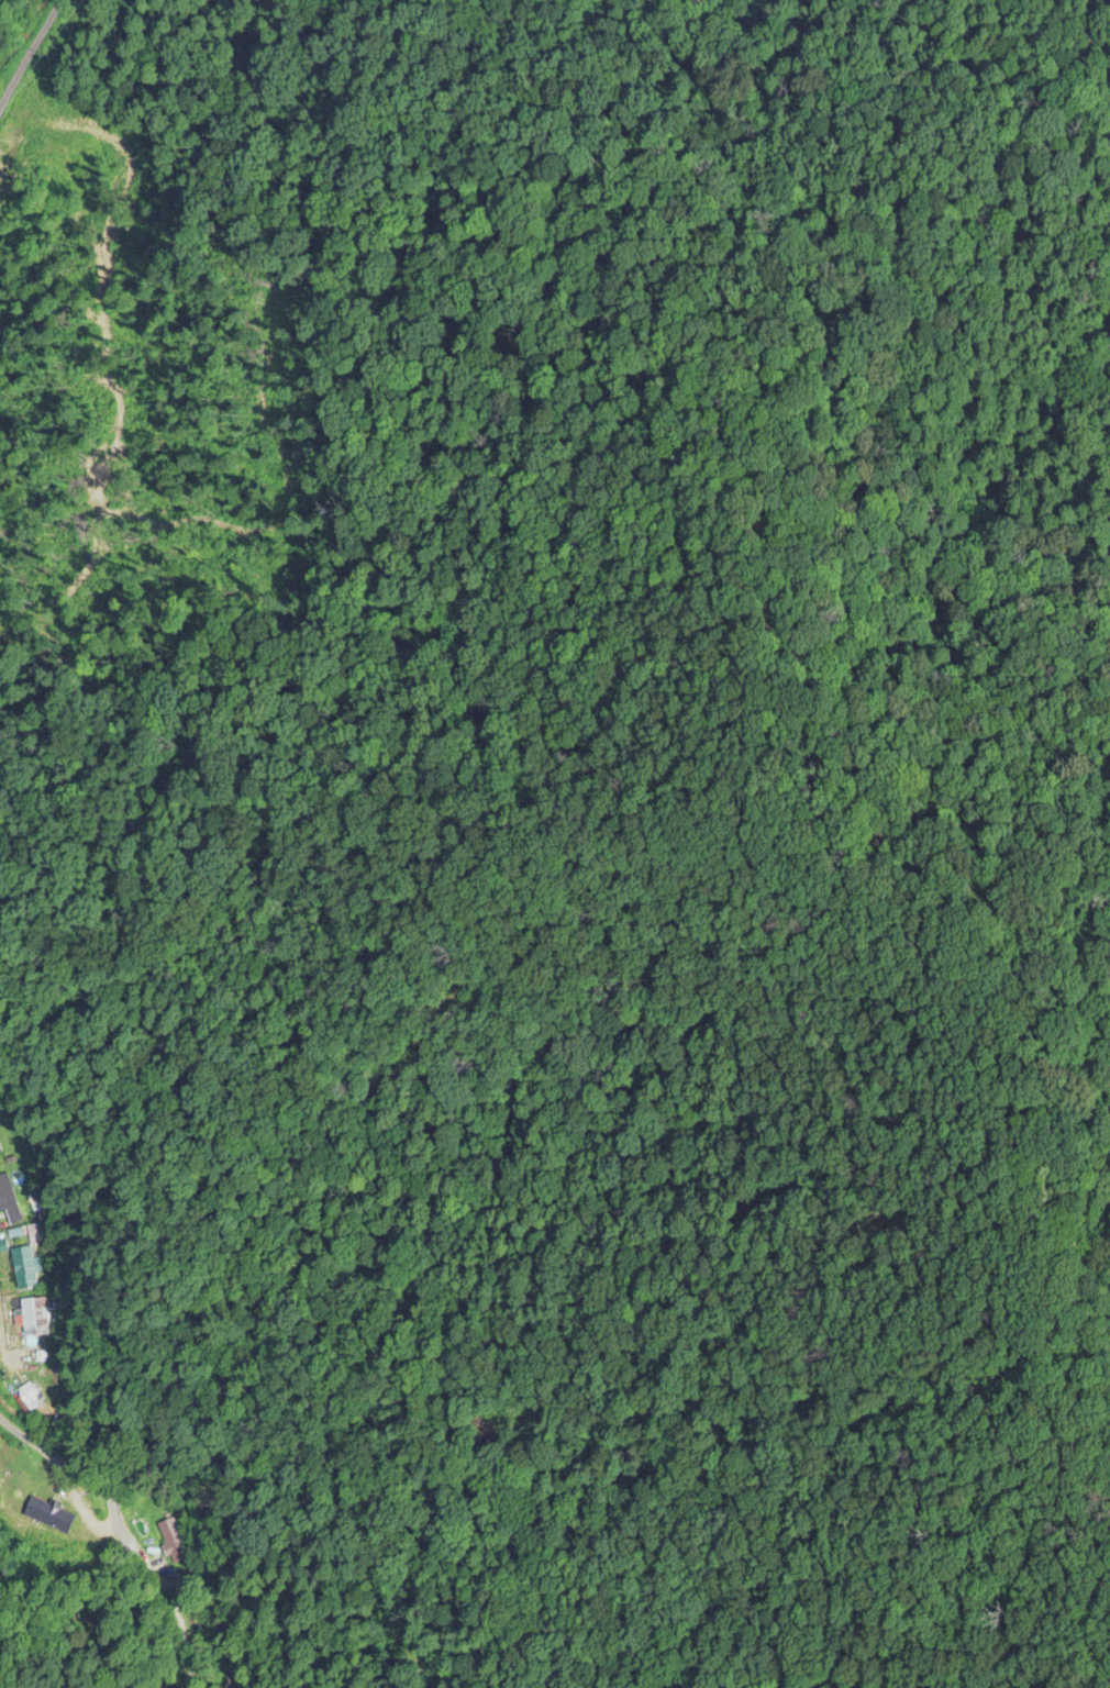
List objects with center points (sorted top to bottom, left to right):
road: (36, 60)
building: (0, 1153)
building: (8, 1202)
building: (1, 1247)
building: (23, 1268)
building: (26, 1336)
building: (29, 1399)
road: (15, 1465)
building: (10, 1474)
building: (45, 1521)
building: (173, 1543)

